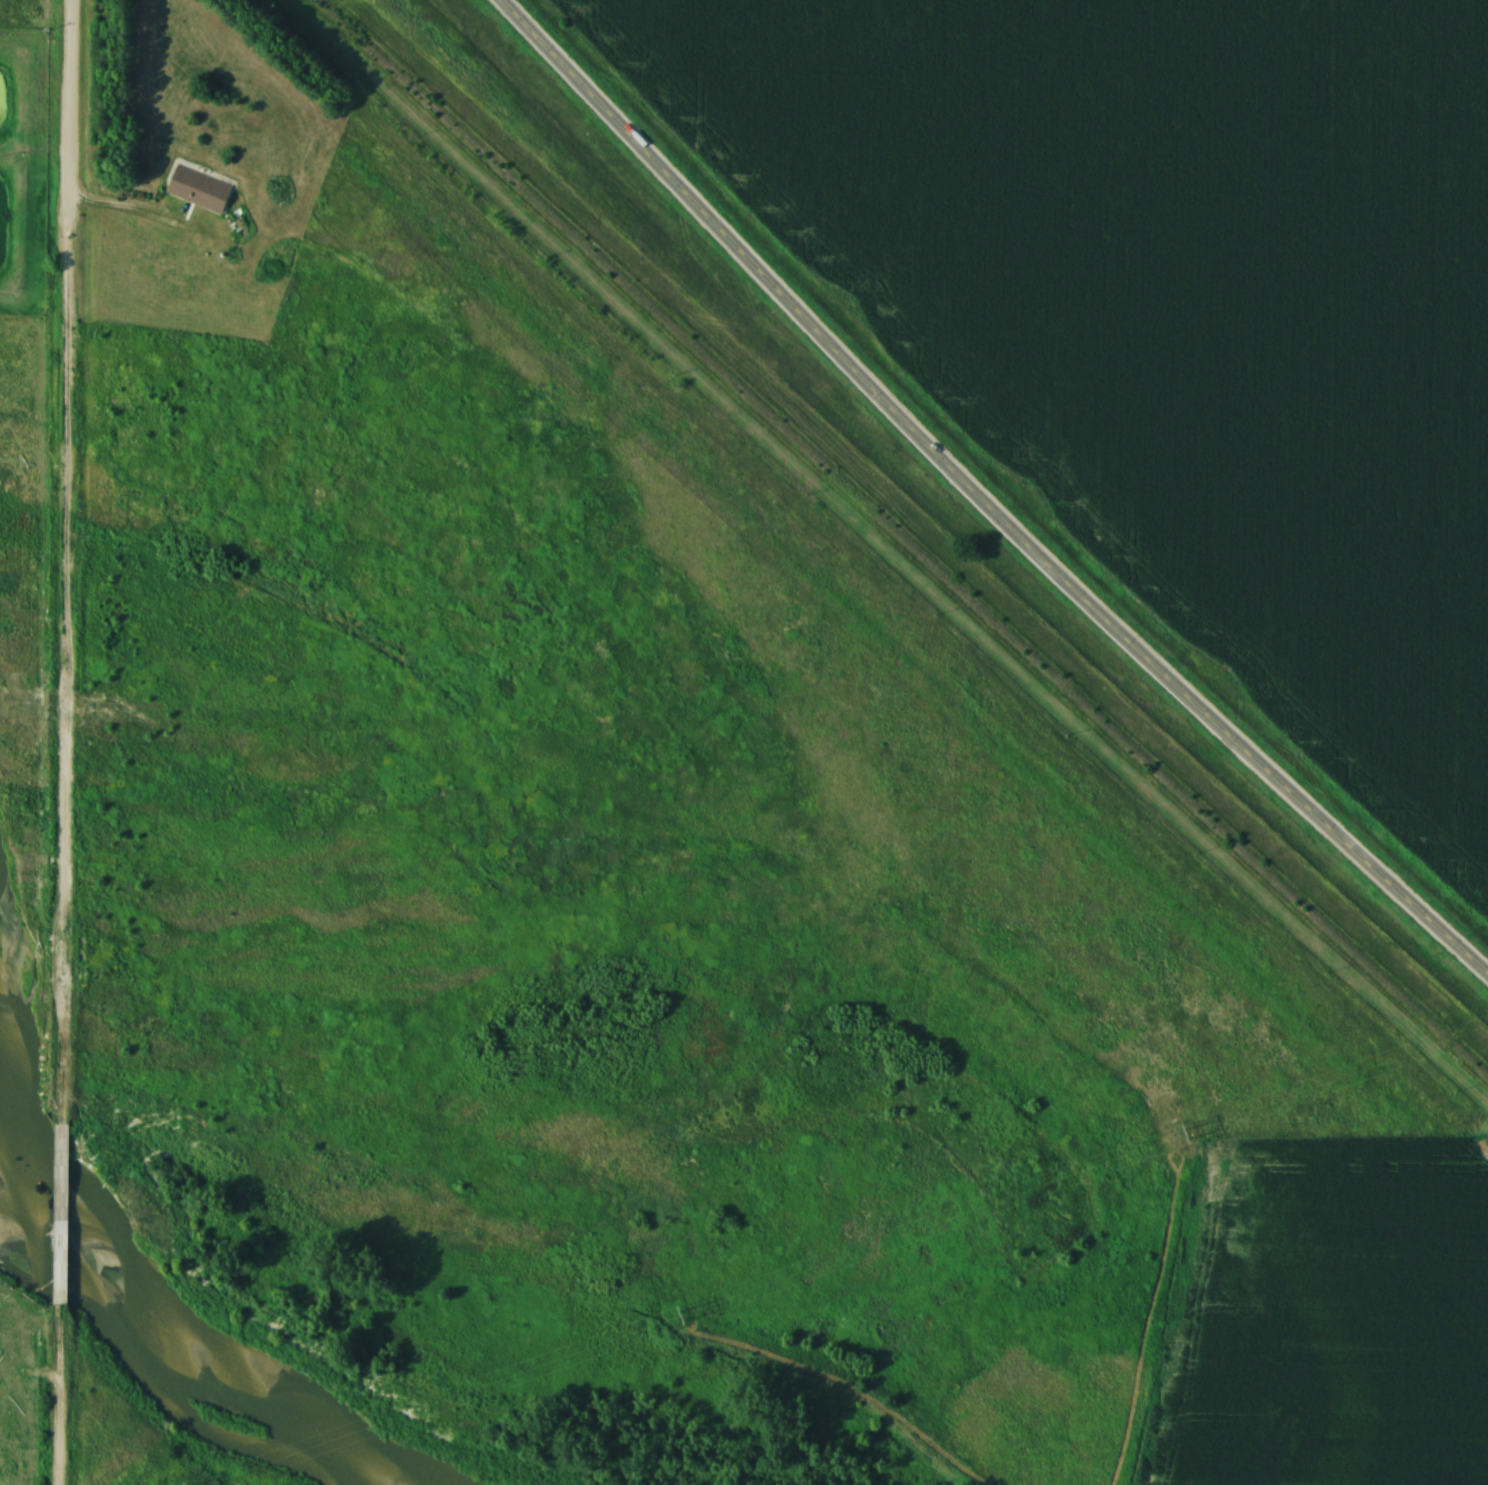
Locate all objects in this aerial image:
building: (198, 190)
road: (136, 218)
road: (975, 504)
railway: (894, 543)
road: (64, 562)
power tower: (1186, 1135)
road: (60, 1216)
building: (60, 1222)
power tower: (673, 1320)
river: (172, 1331)
road: (57, 1395)

